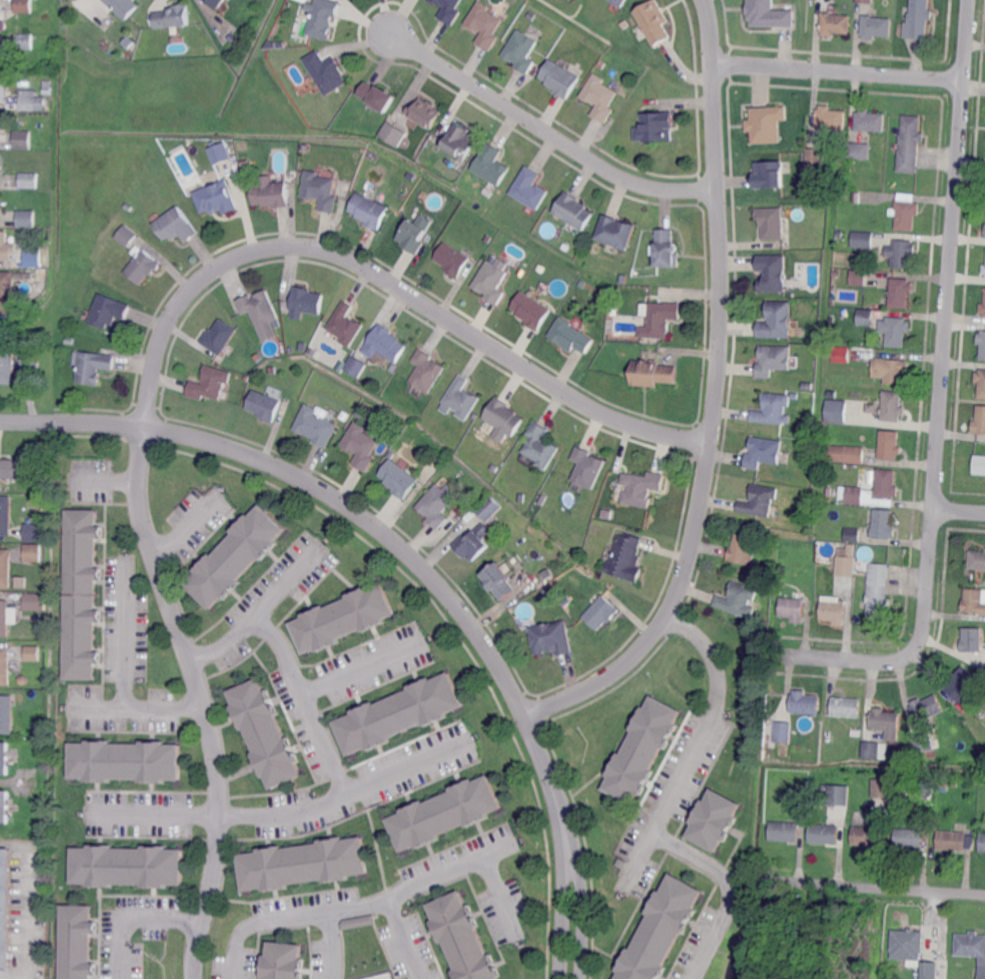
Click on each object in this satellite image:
building: (304, 0)
building: (864, 2)
building: (215, 3)
building: (619, 3)
building: (22, 7)
building: (122, 7)
building: (448, 10)
building: (766, 15)
building: (171, 17)
building: (531, 17)
building: (321, 18)
building: (917, 19)
building: (2, 21)
building: (651, 21)
building: (836, 23)
building: (485, 26)
building: (876, 27)
building: (25, 41)
building: (275, 45)
building: (521, 52)
road: (839, 70)
building: (325, 72)
building: (560, 79)
building: (2, 89)
building: (46, 90)
building: (377, 96)
building: (600, 98)
building: (31, 101)
building: (423, 113)
building: (830, 118)
building: (870, 121)
building: (765, 124)
building: (657, 126)
road: (546, 128)
building: (392, 134)
building: (23, 140)
building: (460, 142)
building: (910, 143)
building: (859, 150)
building: (218, 152)
building: (843, 155)
building: (816, 157)
building: (491, 165)
building: (769, 174)
building: (28, 180)
building: (321, 189)
building: (529, 189)
building: (272, 193)
building: (216, 197)
building: (856, 197)
building: (128, 206)
building: (369, 208)
building: (573, 211)
building: (904, 216)
building: (26, 218)
building: (768, 223)
building: (174, 224)
building: (984, 231)
building: (615, 232)
building: (839, 234)
building: (413, 235)
building: (126, 236)
building: (861, 238)
building: (5, 246)
building: (663, 249)
building: (903, 253)
building: (35, 256)
building: (452, 258)
building: (142, 265)
building: (984, 269)
building: (772, 273)
building: (858, 277)
road: (388, 279)
building: (492, 281)
building: (9, 288)
building: (900, 292)
building: (306, 301)
building: (532, 309)
building: (613, 309)
building: (983, 309)
building: (108, 311)
building: (261, 312)
building: (865, 317)
building: (661, 318)
building: (774, 321)
building: (345, 323)
road: (946, 328)
building: (641, 331)
building: (894, 331)
building: (571, 334)
building: (219, 337)
building: (69, 341)
building: (982, 343)
building: (384, 344)
building: (841, 354)
building: (772, 358)
building: (7, 359)
building: (30, 365)
building: (94, 365)
building: (354, 365)
building: (427, 369)
building: (889, 370)
building: (652, 372)
building: (211, 382)
building: (981, 382)
building: (807, 386)
building: (831, 392)
building: (795, 394)
building: (462, 397)
road: (713, 398)
building: (264, 404)
building: (893, 406)
building: (871, 407)
building: (773, 408)
building: (834, 411)
building: (504, 415)
building: (980, 421)
building: (317, 425)
building: (362, 444)
building: (541, 445)
building: (890, 445)
building: (763, 451)
building: (845, 452)
building: (440, 458)
building: (978, 463)
building: (587, 465)
building: (16, 468)
road: (106, 474)
building: (398, 478)
building: (852, 487)
building: (642, 489)
building: (807, 495)
building: (521, 496)
building: (760, 499)
building: (542, 500)
building: (437, 504)
road: (348, 505)
building: (488, 509)
road: (959, 510)
building: (607, 514)
building: (5, 516)
building: (504, 521)
road: (190, 523)
building: (884, 524)
building: (35, 531)
building: (854, 534)
building: (471, 544)
building: (743, 544)
building: (34, 552)
building: (235, 555)
building: (627, 557)
building: (977, 559)
building: (846, 564)
building: (5, 568)
building: (759, 577)
building: (498, 578)
building: (780, 581)
building: (22, 582)
building: (82, 592)
building: (878, 592)
building: (545, 593)
building: (739, 598)
building: (33, 601)
building: (974, 601)
road: (264, 606)
building: (793, 608)
building: (833, 609)
building: (600, 613)
building: (342, 617)
building: (5, 618)
road: (125, 629)
building: (551, 636)
building: (973, 639)
building: (33, 653)
road: (843, 658)
road: (366, 664)
building: (5, 666)
building: (22, 679)
building: (966, 684)
road: (203, 696)
road: (307, 701)
building: (805, 702)
building: (846, 707)
road: (137, 708)
building: (927, 708)
building: (398, 712)
building: (7, 714)
building: (886, 723)
building: (38, 730)
building: (783, 731)
building: (264, 732)
building: (827, 737)
building: (924, 743)
building: (772, 744)
building: (641, 749)
building: (875, 750)
building: (892, 753)
building: (5, 758)
building: (124, 759)
building: (866, 777)
building: (955, 782)
building: (928, 785)
building: (824, 786)
building: (882, 787)
building: (838, 793)
road: (671, 796)
road: (553, 803)
building: (801, 804)
building: (5, 806)
road: (292, 812)
building: (444, 812)
building: (714, 819)
building: (784, 831)
building: (824, 833)
building: (867, 836)
building: (910, 838)
building: (955, 840)
building: (982, 842)
building: (302, 862)
building: (127, 864)
building: (621, 864)
road: (871, 886)
road: (23, 897)
road: (382, 901)
building: (5, 906)
road: (134, 916)
building: (357, 923)
building: (660, 930)
building: (461, 938)
road: (406, 939)
building: (77, 941)
building: (908, 945)
road: (333, 946)
building: (972, 949)
building: (282, 961)
building: (929, 970)
road: (16, 972)

